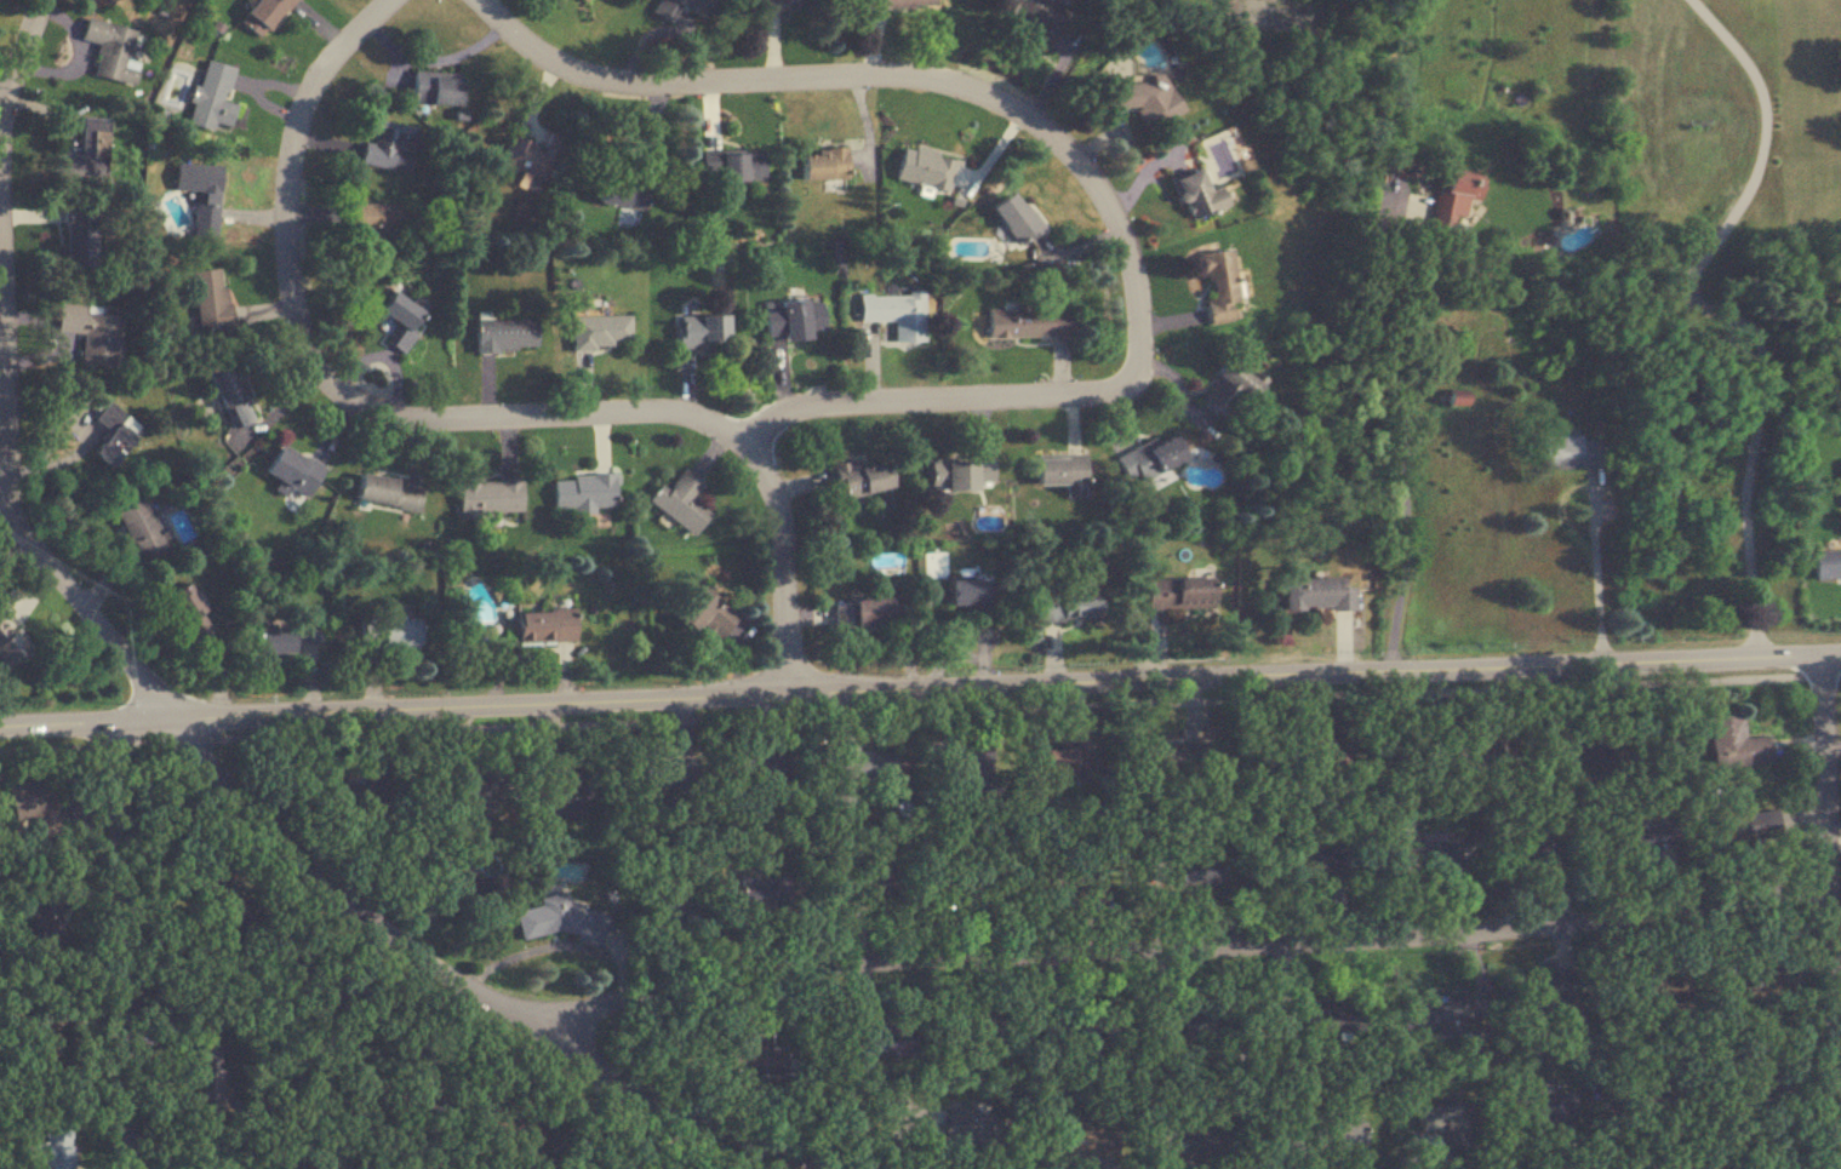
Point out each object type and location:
building: (583, 0)
building: (783, 1)
building: (893, 2)
building: (663, 8)
building: (262, 16)
building: (1036, 17)
building: (110, 50)
building: (435, 88)
building: (208, 94)
building: (1138, 96)
road: (2, 105)
building: (388, 145)
building: (88, 150)
building: (532, 156)
road: (1079, 156)
building: (824, 165)
building: (731, 166)
building: (926, 170)
building: (200, 189)
building: (623, 190)
building: (1196, 194)
building: (1456, 197)
building: (1014, 218)
building: (376, 225)
road: (7, 236)
building: (79, 240)
building: (1214, 286)
building: (210, 298)
building: (894, 314)
road: (1709, 314)
building: (400, 317)
building: (793, 319)
building: (1025, 322)
building: (701, 330)
building: (92, 332)
building: (598, 332)
building: (503, 336)
building: (1225, 389)
building: (228, 396)
road: (452, 419)
building: (113, 434)
building: (1571, 452)
building: (1150, 459)
road: (1406, 464)
building: (291, 472)
building: (1060, 474)
building: (960, 475)
building: (861, 479)
building: (1840, 483)
building: (387, 493)
building: (583, 494)
building: (488, 497)
building: (680, 503)
building: (141, 532)
building: (1826, 565)
road: (1596, 571)
building: (1720, 572)
building: (959, 589)
building: (1174, 590)
building: (1315, 595)
building: (1068, 602)
road: (806, 608)
building: (862, 609)
building: (185, 611)
building: (703, 613)
building: (543, 626)
building: (394, 634)
building: (286, 640)
road: (867, 640)
building: (8, 643)
road: (920, 690)
road: (920, 710)
building: (1328, 740)
building: (1733, 743)
building: (1578, 745)
building: (1482, 752)
building: (1058, 761)
building: (757, 766)
building: (861, 769)
building: (667, 774)
building: (324, 780)
building: (462, 791)
building: (571, 791)
building: (29, 798)
building: (359, 800)
building: (1745, 825)
building: (1533, 852)
building: (1313, 858)
building: (1433, 859)
building: (1178, 871)
building: (1081, 879)
building: (877, 881)
building: (457, 883)
building: (216, 898)
road: (365, 911)
road: (1833, 911)
building: (668, 913)
building: (45, 915)
building: (561, 921)
road: (119, 945)
road: (1178, 950)
park: (10, 958)
building: (1546, 987)
building: (1659, 989)
building: (1435, 1015)
building: (1074, 1024)
building: (1182, 1025)
building: (980, 1032)
building: (882, 1041)
building: (753, 1060)
building: (429, 1078)
building: (1761, 1081)
building: (204, 1083)
building: (1651, 1087)
building: (1543, 1110)
building: (1445, 1122)
building: (976, 1128)
building: (1345, 1136)
building: (1081, 1140)
building: (1179, 1142)
building: (50, 1150)

